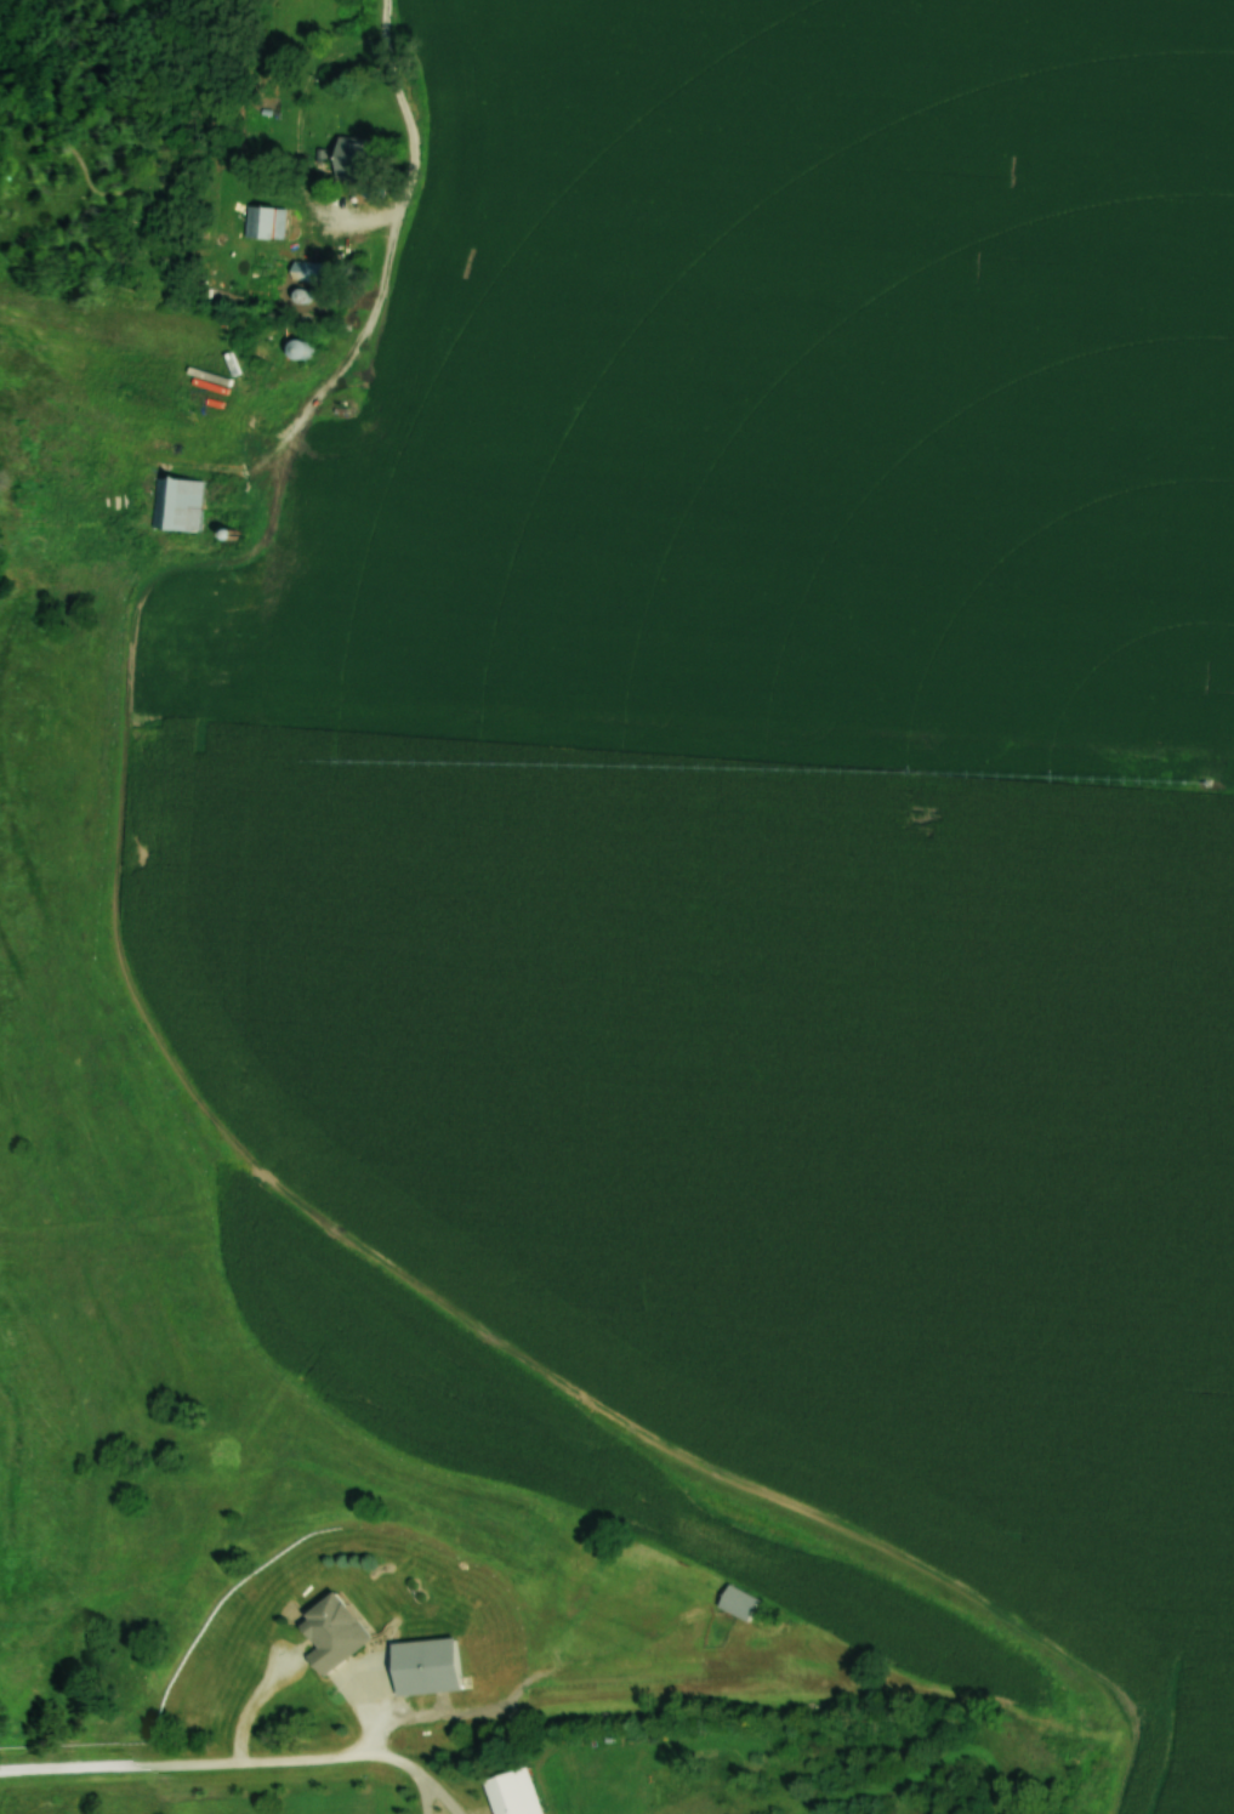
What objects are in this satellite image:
road: (414, 138)
building: (368, 157)
building: (267, 220)
building: (320, 269)
building: (307, 347)
building: (182, 502)
building: (744, 1602)
building: (341, 1633)
building: (438, 1666)
road: (214, 1763)
road: (428, 1781)
building: (522, 1793)

